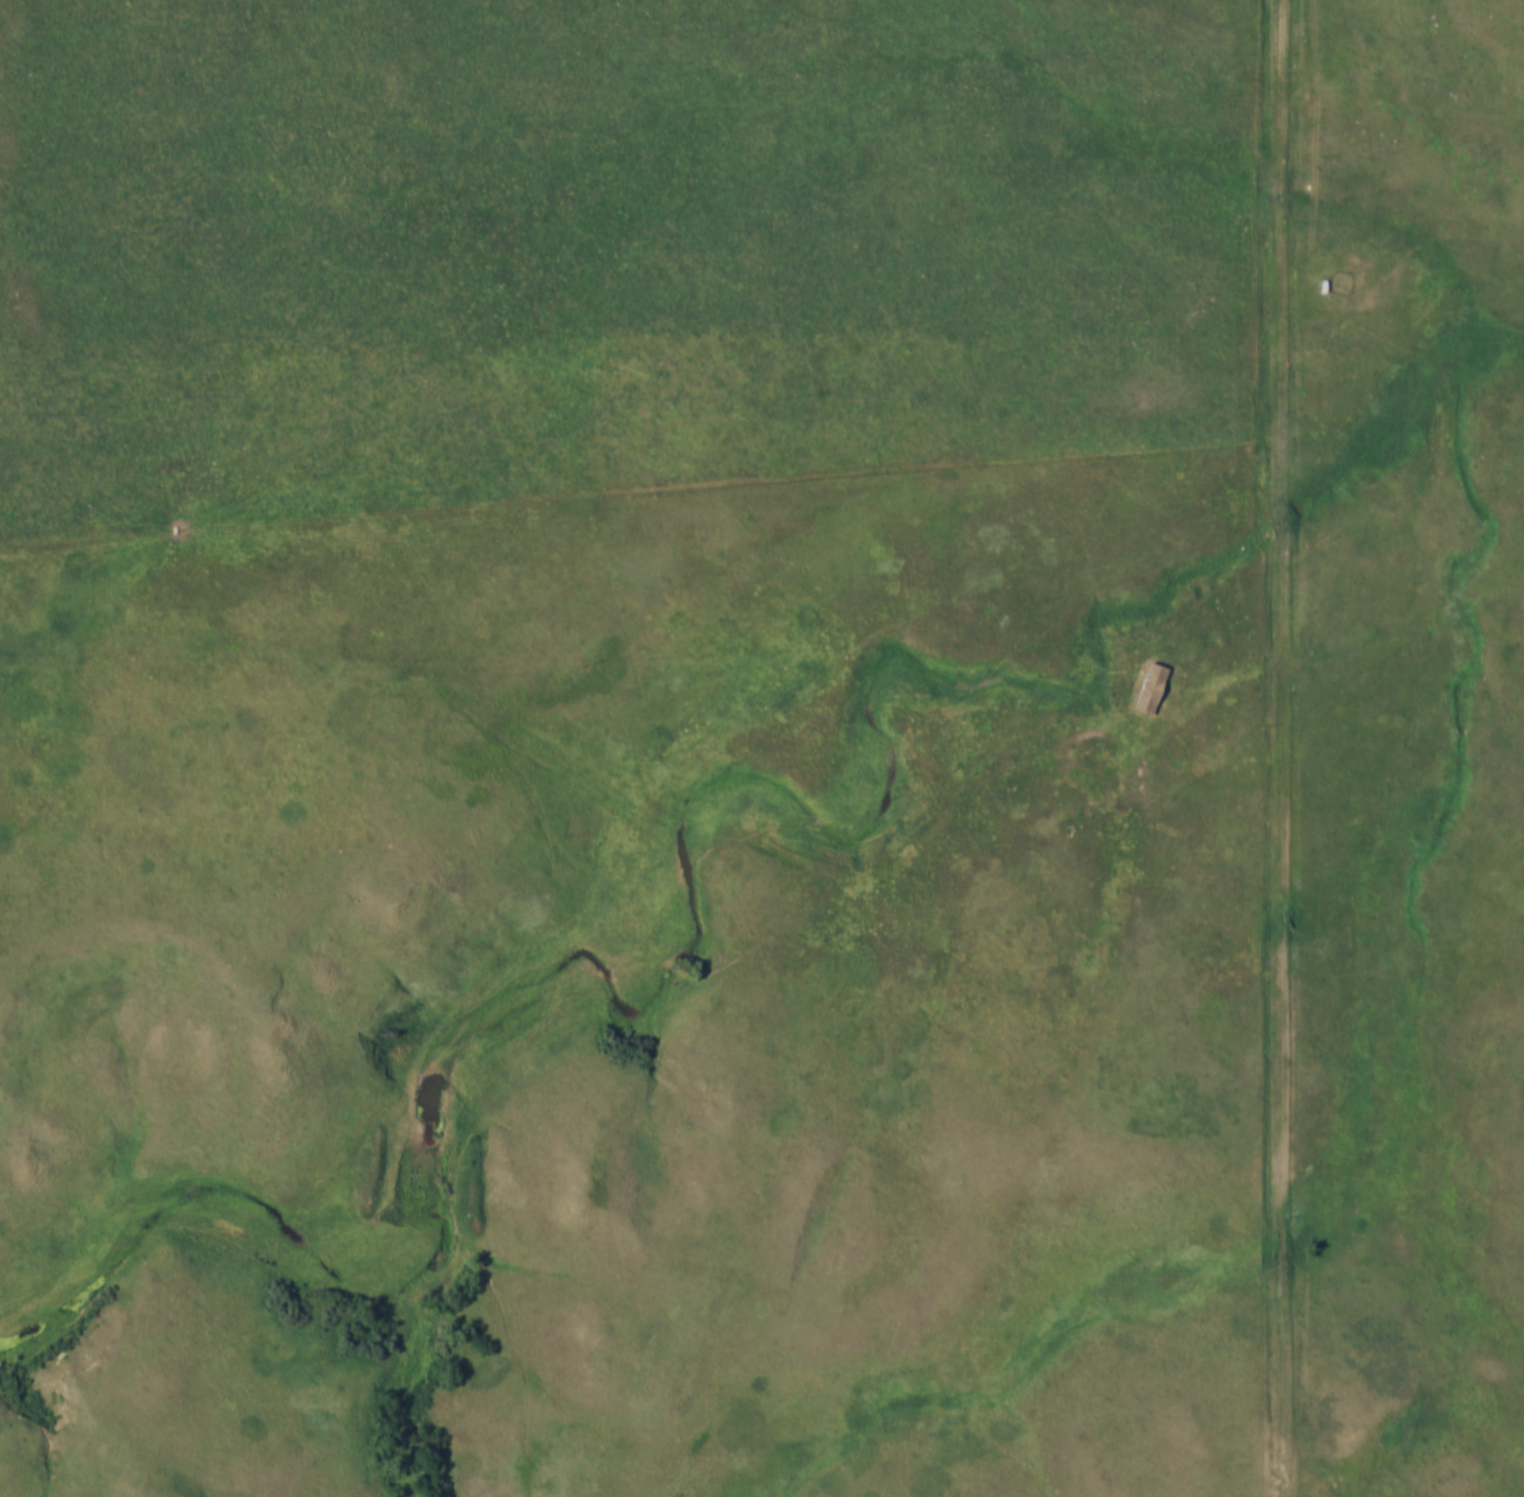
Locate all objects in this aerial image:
building: (1148, 675)
building: (1151, 689)
road: (1283, 748)
road: (870, 867)
road: (562, 951)

